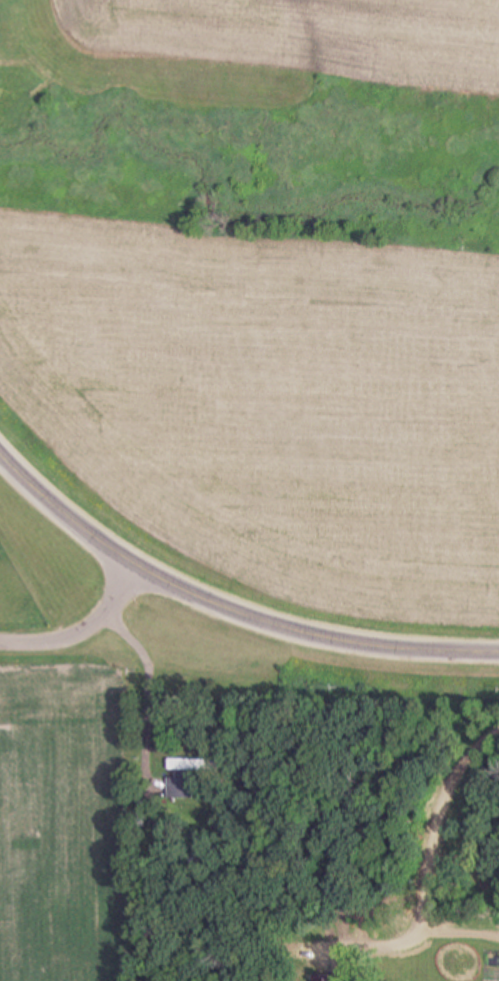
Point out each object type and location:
road: (226, 604)
road: (84, 626)
road: (147, 686)
building: (188, 775)
building: (326, 978)

